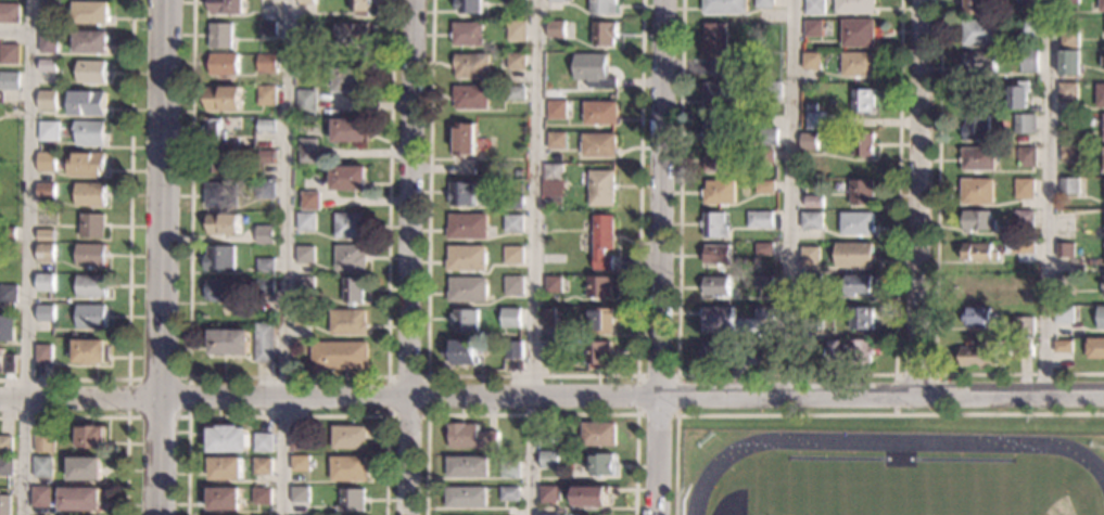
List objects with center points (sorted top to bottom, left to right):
building: (559, 0)
building: (1068, 1)
building: (306, 2)
building: (517, 2)
building: (268, 3)
building: (764, 3)
building: (468, 5)
building: (1029, 5)
building: (1101, 5)
building: (228, 7)
building: (360, 7)
building: (604, 7)
building: (725, 7)
building: (815, 7)
building: (854, 7)
building: (977, 7)
building: (50, 10)
building: (10, 13)
building: (92, 13)
building: (1028, 27)
building: (813, 28)
building: (268, 29)
building: (557, 29)
road: (15, 30)
building: (517, 31)
building: (307, 33)
building: (856, 33)
building: (982, 33)
building: (353, 34)
building: (468, 34)
building: (605, 34)
building: (221, 36)
building: (1069, 39)
building: (49, 41)
building: (90, 43)
building: (716, 48)
building: (10, 54)
building: (517, 61)
building: (811, 61)
building: (1028, 62)
building: (1068, 62)
building: (1103, 62)
building: (979, 63)
building: (267, 64)
building: (856, 64)
building: (225, 65)
building: (49, 66)
building: (472, 66)
building: (594, 70)
building: (91, 72)
building: (352, 80)
building: (10, 81)
building: (771, 91)
building: (1067, 92)
building: (517, 93)
building: (723, 94)
building: (267, 95)
building: (1017, 95)
building: (1100, 95)
building: (471, 98)
building: (224, 99)
building: (862, 100)
building: (48, 101)
building: (306, 102)
building: (88, 103)
building: (809, 106)
building: (557, 110)
building: (601, 113)
building: (1068, 119)
building: (814, 120)
building: (1025, 124)
building: (1100, 125)
building: (266, 126)
building: (977, 128)
building: (213, 130)
building: (351, 130)
building: (49, 131)
building: (715, 131)
building: (89, 133)
building: (769, 137)
building: (466, 140)
building: (557, 141)
building: (814, 143)
building: (233, 144)
building: (599, 145)
building: (863, 145)
building: (308, 152)
building: (1068, 154)
building: (763, 156)
building: (266, 157)
building: (1026, 157)
building: (978, 158)
building: (721, 160)
building: (46, 163)
building: (219, 163)
building: (87, 165)
building: (350, 179)
building: (554, 180)
building: (764, 186)
building: (1069, 186)
building: (601, 189)
building: (1024, 189)
building: (265, 190)
building: (46, 192)
building: (720, 192)
building: (861, 192)
building: (976, 192)
building: (90, 194)
building: (464, 194)
road: (921, 194)
building: (221, 195)
road: (789, 195)
road: (1046, 195)
building: (310, 201)
building: (548, 202)
building: (813, 202)
building: (516, 203)
building: (760, 219)
building: (1023, 219)
building: (811, 221)
building: (978, 221)
building: (305, 222)
building: (515, 223)
building: (856, 223)
building: (224, 224)
building: (585, 224)
building: (91, 226)
building: (351, 226)
building: (714, 226)
building: (468, 227)
building: (8, 233)
building: (265, 234)
building: (46, 235)
building: (604, 242)
building: (764, 249)
building: (1065, 249)
building: (1020, 250)
building: (979, 252)
building: (45, 253)
road: (128, 253)
building: (854, 254)
building: (90, 255)
building: (305, 255)
building: (515, 255)
building: (716, 255)
road: (25, 257)
road: (158, 257)
road: (281, 257)
road: (411, 257)
road: (535, 257)
road: (662, 257)
building: (810, 257)
building: (219, 258)
building: (351, 258)
building: (467, 258)
building: (264, 267)
road: (936, 271)
building: (763, 282)
building: (811, 282)
building: (45, 284)
building: (554, 284)
building: (860, 284)
building: (1064, 284)
building: (304, 285)
building: (515, 285)
building: (1013, 285)
building: (90, 286)
building: (715, 286)
building: (265, 287)
building: (599, 287)
building: (468, 289)
building: (220, 291)
building: (354, 291)
building: (9, 294)
building: (45, 313)
building: (763, 313)
building: (1064, 314)
building: (90, 316)
building: (302, 317)
building: (549, 317)
building: (978, 317)
building: (1101, 317)
building: (511, 318)
building: (861, 318)
building: (718, 319)
building: (466, 320)
building: (601, 321)
building: (347, 322)
building: (810, 324)
building: (1024, 326)
building: (7, 327)
building: (229, 342)
building: (264, 343)
building: (1063, 346)
building: (1025, 347)
building: (1094, 348)
building: (515, 349)
building: (721, 350)
building: (90, 351)
building: (849, 351)
building: (462, 352)
building: (555, 352)
building: (598, 352)
building: (43, 355)
building: (981, 355)
building: (339, 356)
building: (7, 363)
road: (894, 374)
road: (785, 375)
road: (428, 376)
road: (532, 376)
road: (187, 377)
road: (288, 377)
road: (551, 392)
road: (637, 413)
road: (532, 414)
road: (287, 415)
road: (839, 415)
road: (112, 417)
building: (599, 435)
building: (90, 437)
building: (347, 437)
building: (471, 437)
building: (227, 439)
building: (297, 440)
building: (263, 442)
building: (45, 443)
building: (7, 446)
building: (549, 460)
building: (300, 464)
building: (602, 465)
building: (7, 466)
building: (262, 466)
building: (42, 467)
building: (468, 467)
building: (85, 469)
building: (225, 469)
building: (347, 469)
building: (510, 469)
park: (905, 489)
building: (510, 493)
building: (299, 494)
building: (549, 495)
building: (592, 495)
building: (40, 497)
building: (262, 497)
building: (466, 498)
building: (79, 499)
building: (224, 500)
building: (352, 500)
building: (5, 505)

